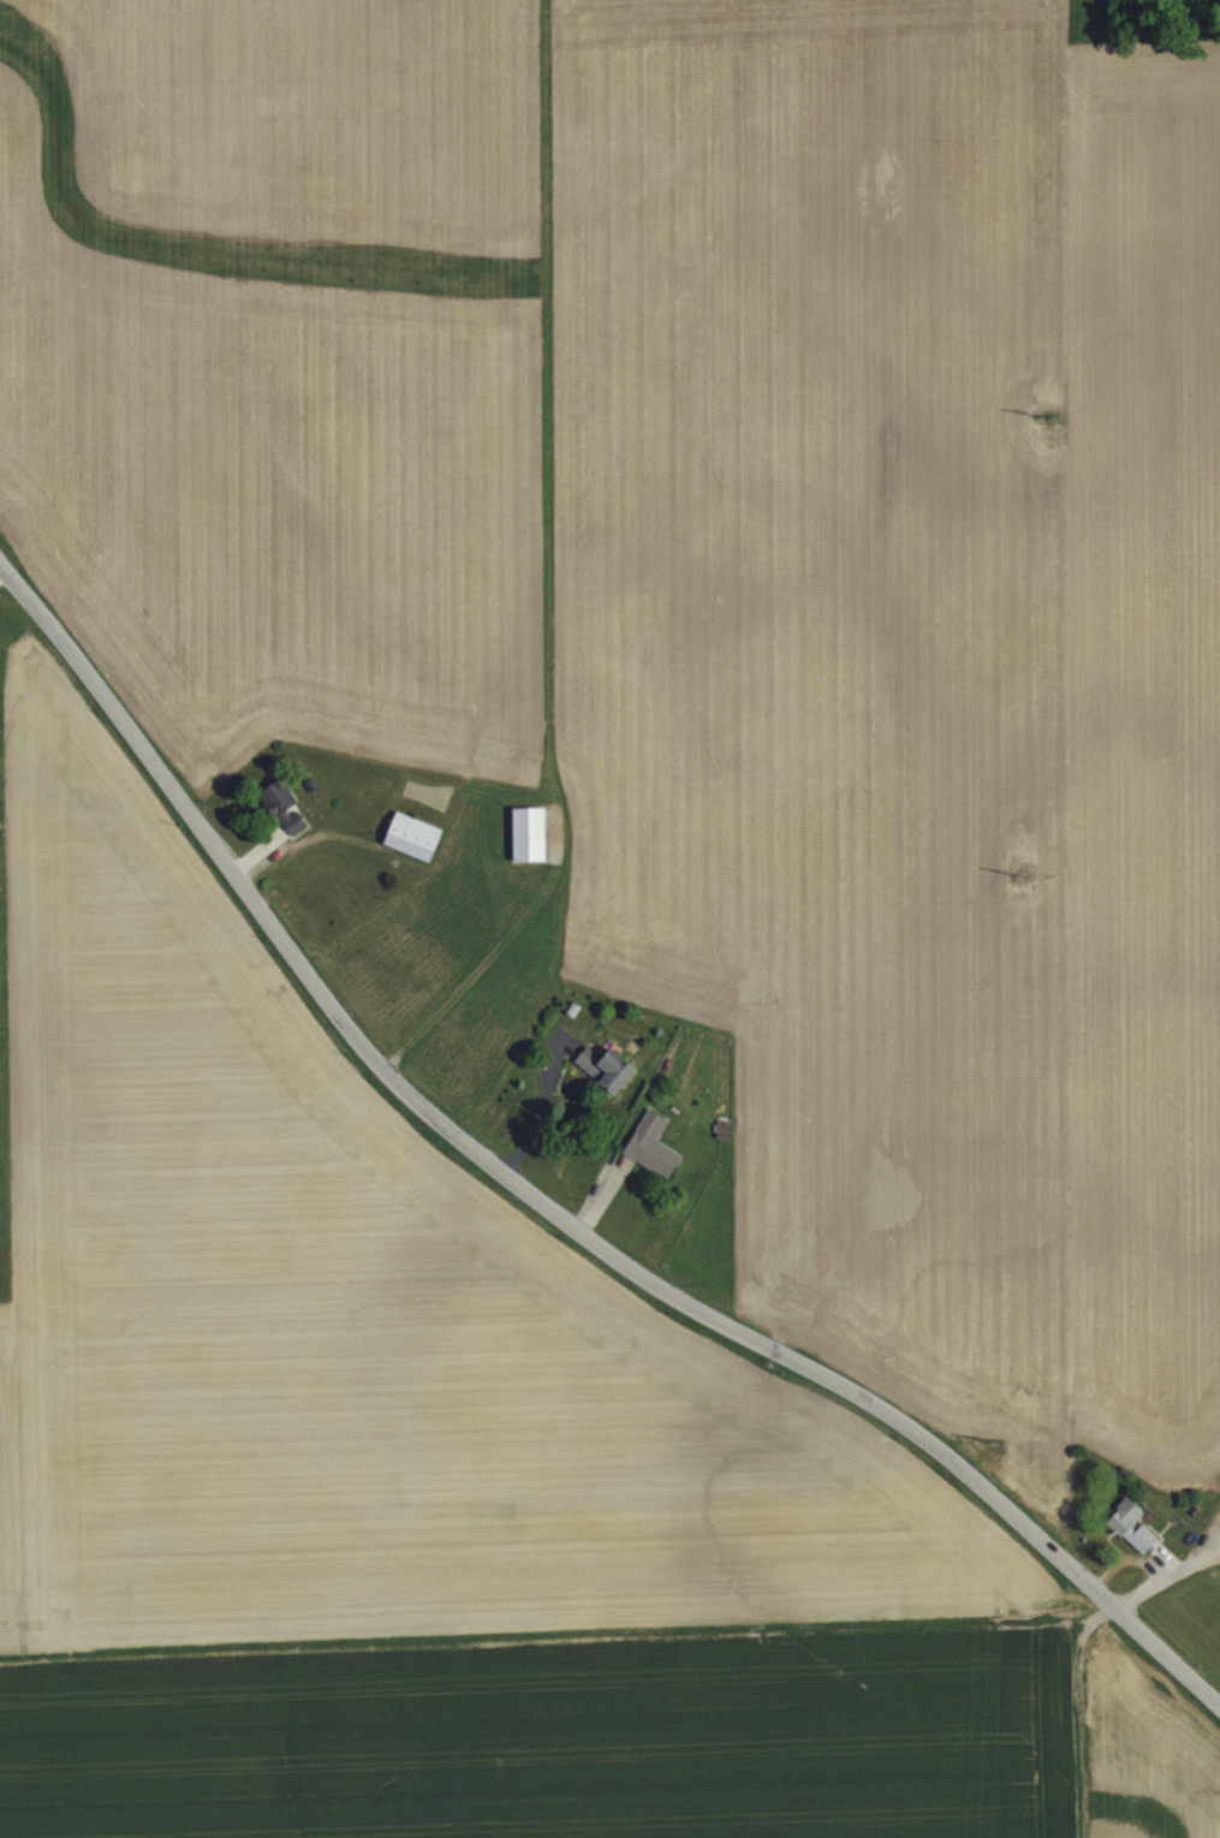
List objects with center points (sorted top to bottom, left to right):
road: (0, 561)
building: (285, 822)
building: (529, 849)
building: (413, 851)
building: (606, 1083)
road: (542, 1123)
building: (653, 1159)
road: (535, 1213)
building: (1129, 1521)
road: (1130, 1559)
road: (1170, 1576)

